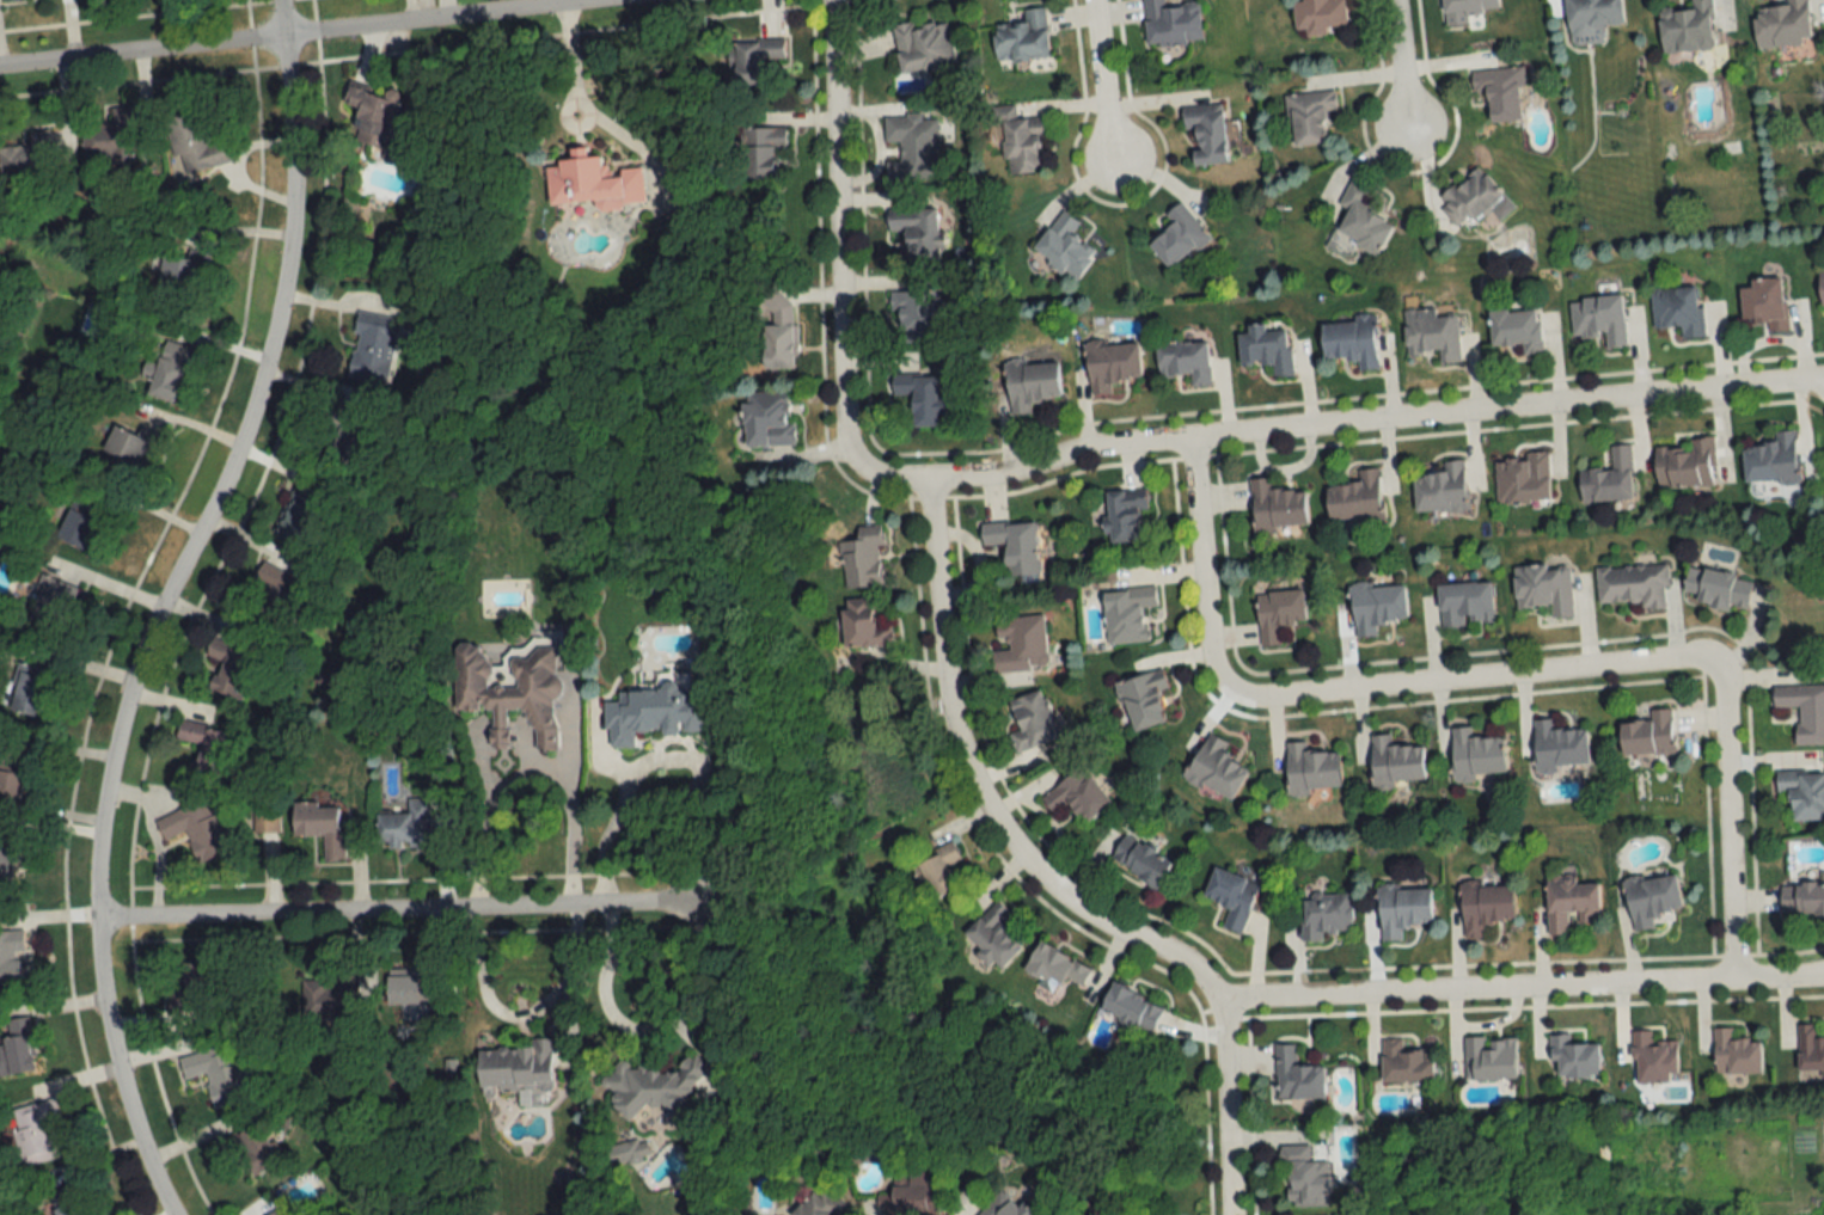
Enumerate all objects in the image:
road: (581, 2)
road: (445, 10)
building: (1465, 10)
building: (1318, 16)
building: (1591, 17)
building: (1171, 23)
building: (1782, 24)
building: (1688, 27)
road: (310, 35)
building: (1022, 38)
building: (923, 47)
building: (753, 59)
road: (1398, 72)
road: (1104, 90)
building: (1500, 92)
road: (587, 106)
building: (1308, 116)
building: (378, 119)
building: (1206, 131)
building: (109, 136)
building: (1020, 141)
building: (192, 142)
building: (912, 147)
building: (760, 151)
building: (27, 161)
building: (593, 180)
building: (1469, 196)
building: (1361, 220)
building: (916, 232)
building: (1177, 235)
building: (1064, 245)
road: (838, 270)
building: (177, 277)
building: (1822, 286)
building: (1764, 302)
building: (1676, 309)
building: (916, 315)
building: (1598, 319)
building: (1517, 329)
building: (778, 330)
building: (1432, 335)
building: (1352, 342)
building: (369, 346)
building: (1266, 349)
building: (1185, 361)
building: (1110, 364)
building: (170, 369)
building: (1030, 383)
building: (920, 398)
building: (767, 418)
road: (1375, 423)
building: (351, 440)
building: (124, 450)
building: (1774, 460)
building: (1687, 465)
building: (1522, 478)
building: (1609, 478)
building: (1442, 489)
building: (1355, 497)
building: (1277, 505)
building: (1125, 515)
building: (296, 518)
building: (82, 521)
building: (1014, 544)
building: (862, 559)
road: (1200, 567)
building: (1632, 585)
building: (1718, 587)
building: (1542, 589)
building: (275, 590)
building: (53, 595)
building: (1465, 602)
road: (161, 606)
building: (1377, 606)
building: (1278, 613)
building: (1127, 614)
building: (862, 625)
building: (1020, 643)
building: (228, 665)
road: (1473, 681)
building: (512, 686)
building: (31, 689)
building: (1143, 699)
building: (1804, 710)
building: (654, 712)
building: (1030, 722)
building: (1649, 735)
building: (1559, 747)
building: (210, 750)
building: (1476, 754)
building: (1396, 762)
building: (1216, 768)
building: (1311, 769)
building: (14, 779)
road: (532, 780)
building: (1804, 793)
building: (1076, 796)
building: (265, 821)
road: (1727, 822)
building: (405, 826)
building: (320, 827)
building: (196, 829)
road: (604, 837)
building: (1140, 860)
building: (8, 863)
building: (936, 872)
road: (1043, 882)
building: (1231, 897)
building: (1652, 898)
building: (1802, 900)
building: (1571, 903)
building: (1486, 907)
building: (1403, 910)
road: (386, 913)
building: (1326, 915)
building: (992, 935)
building: (11, 957)
road: (706, 964)
building: (1054, 967)
road: (1520, 987)
building: (192, 989)
building: (1130, 1007)
road: (519, 1014)
road: (630, 1026)
building: (16, 1045)
building: (1811, 1048)
building: (1736, 1053)
building: (1491, 1057)
building: (1574, 1057)
building: (1653, 1058)
building: (1404, 1062)
building: (515, 1067)
building: (221, 1074)
building: (1296, 1076)
building: (655, 1087)
building: (35, 1131)
building: (258, 1148)
building: (1304, 1178)
building: (911, 1197)
building: (72, 1199)
building: (821, 1204)
building: (1003, 1207)
building: (279, 1211)

